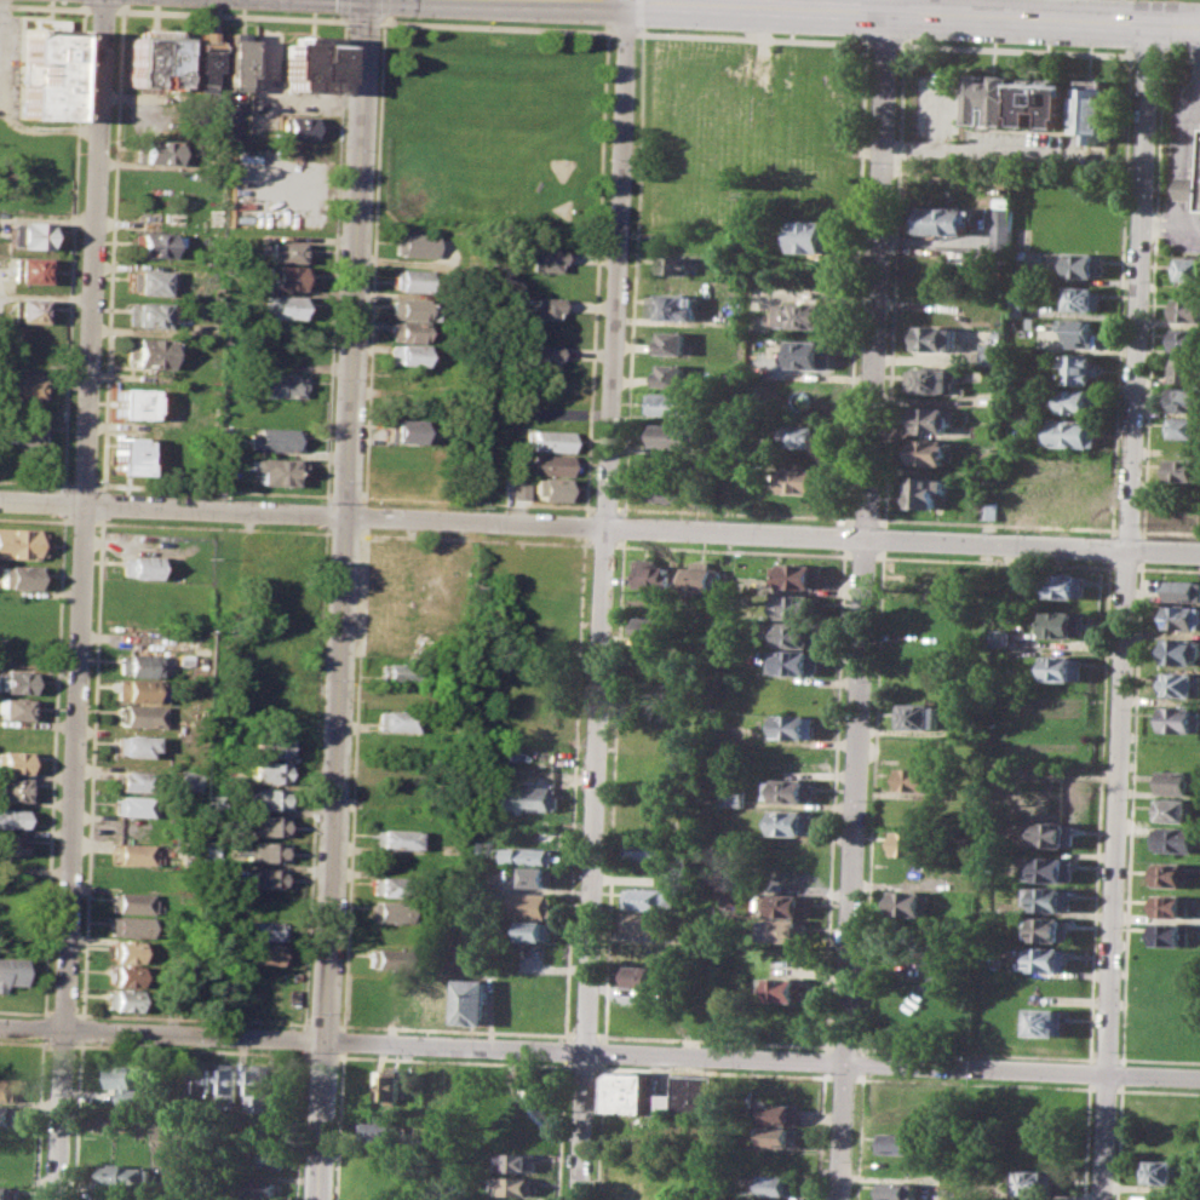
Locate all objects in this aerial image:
road: (627, 1)
street lamp: (73, 4)
road: (45, 6)
street lamp: (178, 6)
road: (102, 8)
road: (1052, 10)
road: (884, 12)
road: (230, 13)
street lamp: (331, 13)
road: (641, 13)
street lamp: (392, 17)
road: (362, 19)
street lamp: (486, 21)
street lamp: (88, 25)
street lamp: (341, 25)
road: (495, 25)
street lamp: (655, 28)
road: (641, 29)
road: (624, 31)
street lamp: (813, 35)
road: (754, 38)
street lamp: (926, 39)
street lamp: (610, 44)
road: (886, 44)
street lamp: (1093, 47)
road: (1017, 50)
road: (1148, 56)
road: (1179, 56)
building: (153, 57)
building: (197, 57)
building: (230, 61)
building: (310, 63)
street lamp: (1159, 74)
building: (48, 75)
building: (993, 98)
building: (1047, 99)
parking lot: (1184, 103)
building: (1096, 108)
park: (493, 113)
building: (298, 126)
street lamp: (108, 142)
building: (36, 149)
building: (155, 150)
park: (440, 160)
park: (559, 166)
road: (1175, 168)
street lamp: (1154, 182)
building: (1190, 189)
park: (561, 208)
building: (946, 219)
building: (1000, 226)
building: (28, 235)
building: (817, 236)
building: (151, 242)
building: (413, 245)
street lamp: (104, 251)
building: (286, 251)
street lamp: (1185, 251)
road: (96, 253)
building: (545, 259)
building: (1084, 264)
road: (616, 265)
building: (674, 265)
building: (29, 269)
building: (1187, 269)
road: (880, 270)
building: (286, 277)
building: (414, 279)
street lamp: (1149, 280)
building: (148, 281)
road: (1137, 286)
road: (1119, 295)
building: (1083, 298)
building: (677, 305)
building: (1016, 305)
building: (286, 306)
building: (544, 306)
building: (410, 308)
building: (27, 309)
building: (1185, 309)
building: (148, 314)
building: (809, 316)
road: (1153, 320)
building: (409, 331)
building: (1080, 332)
building: (938, 338)
building: (1185, 339)
building: (676, 343)
building: (150, 352)
building: (406, 354)
building: (542, 354)
building: (815, 355)
building: (992, 355)
building: (1080, 368)
building: (1184, 368)
building: (673, 374)
building: (936, 379)
building: (279, 383)
street lamp: (99, 385)
building: (21, 387)
road: (890, 397)
building: (1184, 397)
building: (1080, 401)
building: (130, 402)
building: (677, 403)
building: (932, 419)
building: (1183, 426)
building: (407, 429)
building: (23, 432)
building: (1072, 432)
building: (676, 435)
building: (808, 436)
building: (275, 438)
building: (549, 440)
building: (931, 452)
building: (128, 454)
building: (549, 464)
building: (272, 469)
building: (1182, 469)
building: (806, 478)
street lamp: (96, 480)
building: (549, 487)
building: (674, 489)
building: (924, 492)
street lamp: (1141, 523)
road: (599, 528)
road: (1127, 529)
road: (1141, 529)
street lamp: (93, 530)
street lamp: (1095, 535)
street lamp: (1148, 538)
building: (19, 542)
road: (1110, 547)
building: (139, 565)
building: (655, 573)
building: (707, 575)
building: (18, 576)
building: (800, 576)
building: (1068, 585)
building: (1183, 590)
road: (343, 599)
building: (800, 607)
building: (1181, 615)
building: (1067, 622)
building: (658, 628)
building: (794, 635)
building: (1001, 638)
building: (196, 643)
building: (1181, 651)
building: (797, 661)
building: (136, 665)
building: (1062, 666)
building: (400, 672)
building: (16, 682)
building: (1181, 684)
building: (138, 690)
building: (398, 696)
building: (16, 708)
building: (138, 714)
building: (919, 714)
building: (1179, 718)
building: (397, 719)
building: (796, 725)
building: (132, 743)
building: (271, 746)
building: (1178, 753)
building: (13, 762)
building: (269, 771)
building: (918, 779)
building: (133, 780)
building: (188, 780)
building: (1178, 781)
building: (13, 788)
building: (790, 791)
building: (735, 794)
building: (268, 798)
building: (533, 798)
building: (132, 805)
building: (1177, 809)
road: (1099, 810)
building: (13, 817)
building: (793, 822)
building: (264, 825)
building: (1055, 834)
building: (392, 838)
building: (1177, 838)
building: (917, 842)
building: (12, 843)
building: (651, 849)
building: (260, 850)
road: (71, 854)
building: (132, 854)
building: (530, 856)
road: (595, 865)
building: (1053, 868)
road: (854, 869)
road: (1114, 873)
building: (1172, 874)
building: (264, 877)
building: (536, 877)
building: (391, 886)
building: (650, 898)
building: (1052, 898)
building: (131, 902)
building: (790, 903)
building: (911, 903)
building: (533, 905)
building: (1171, 906)
building: (390, 911)
building: (650, 923)
building: (130, 925)
building: (1051, 929)
building: (534, 930)
building: (787, 930)
building: (262, 931)
building: (1171, 934)
building: (389, 935)
building: (470, 951)
building: (126, 952)
building: (262, 953)
building: (386, 958)
building: (1051, 958)
building: (942, 968)
building: (10, 970)
building: (125, 975)
building: (637, 975)
building: (785, 988)
building: (124, 999)
building: (471, 1001)
building: (1050, 1021)
road: (599, 1057)
road: (1090, 1072)
building: (201, 1076)
building: (228, 1080)
building: (126, 1083)
building: (259, 1085)
building: (386, 1085)
building: (10, 1089)
building: (625, 1091)
building: (689, 1096)
building: (783, 1113)
building: (8, 1114)
building: (381, 1131)
building: (782, 1136)
road: (1086, 1141)
building: (900, 1142)
building: (381, 1152)
building: (264, 1158)
building: (516, 1161)
building: (1160, 1172)
building: (122, 1175)
building: (1033, 1182)
building: (780, 1184)
building: (517, 1185)
building: (260, 1190)
building: (898, 1190)
building: (7, 1192)

